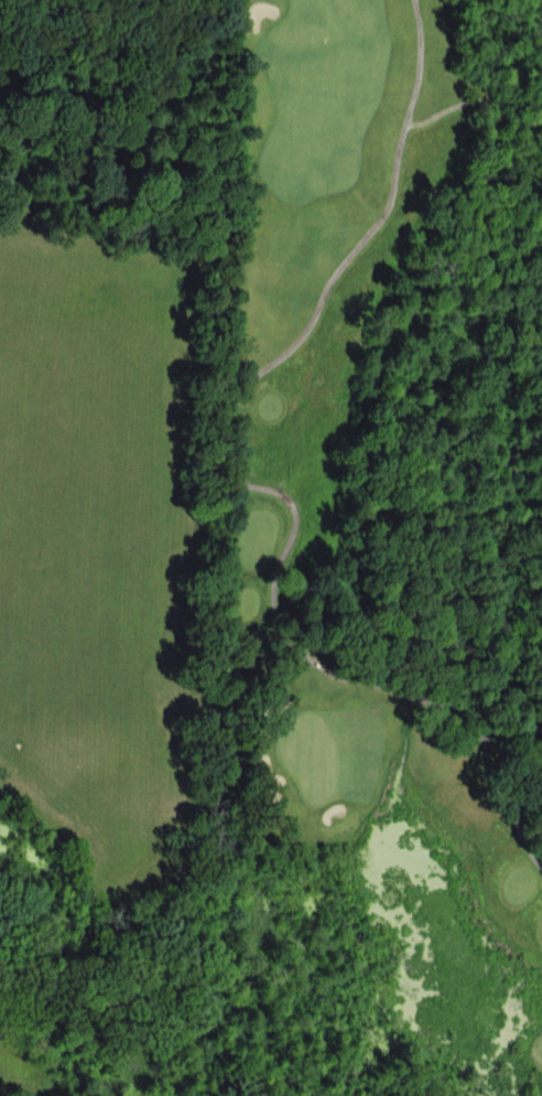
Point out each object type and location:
road: (229, 455)
park: (372, 529)
road: (521, 829)

